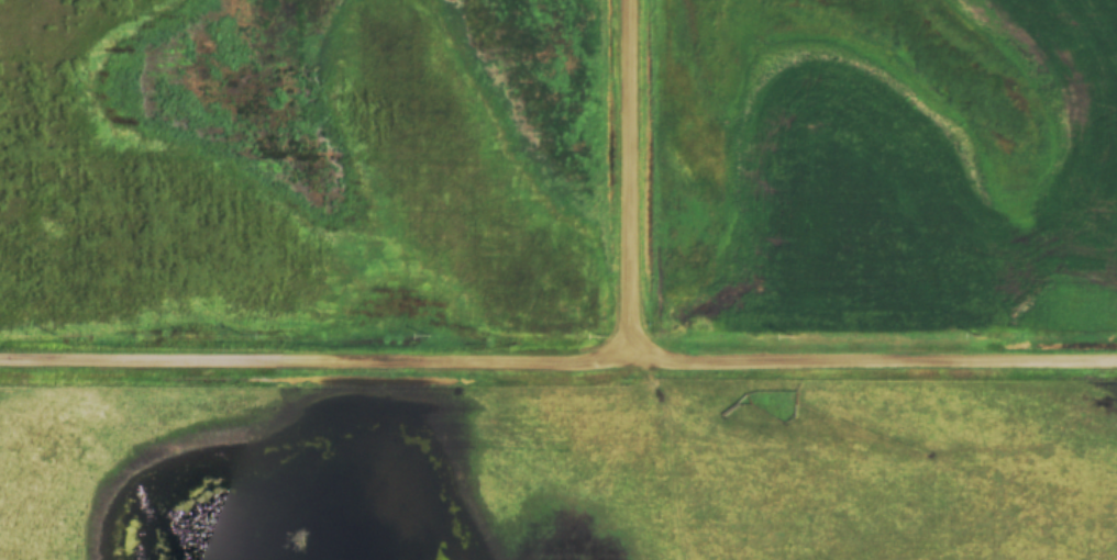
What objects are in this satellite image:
road: (633, 182)
road: (558, 363)

